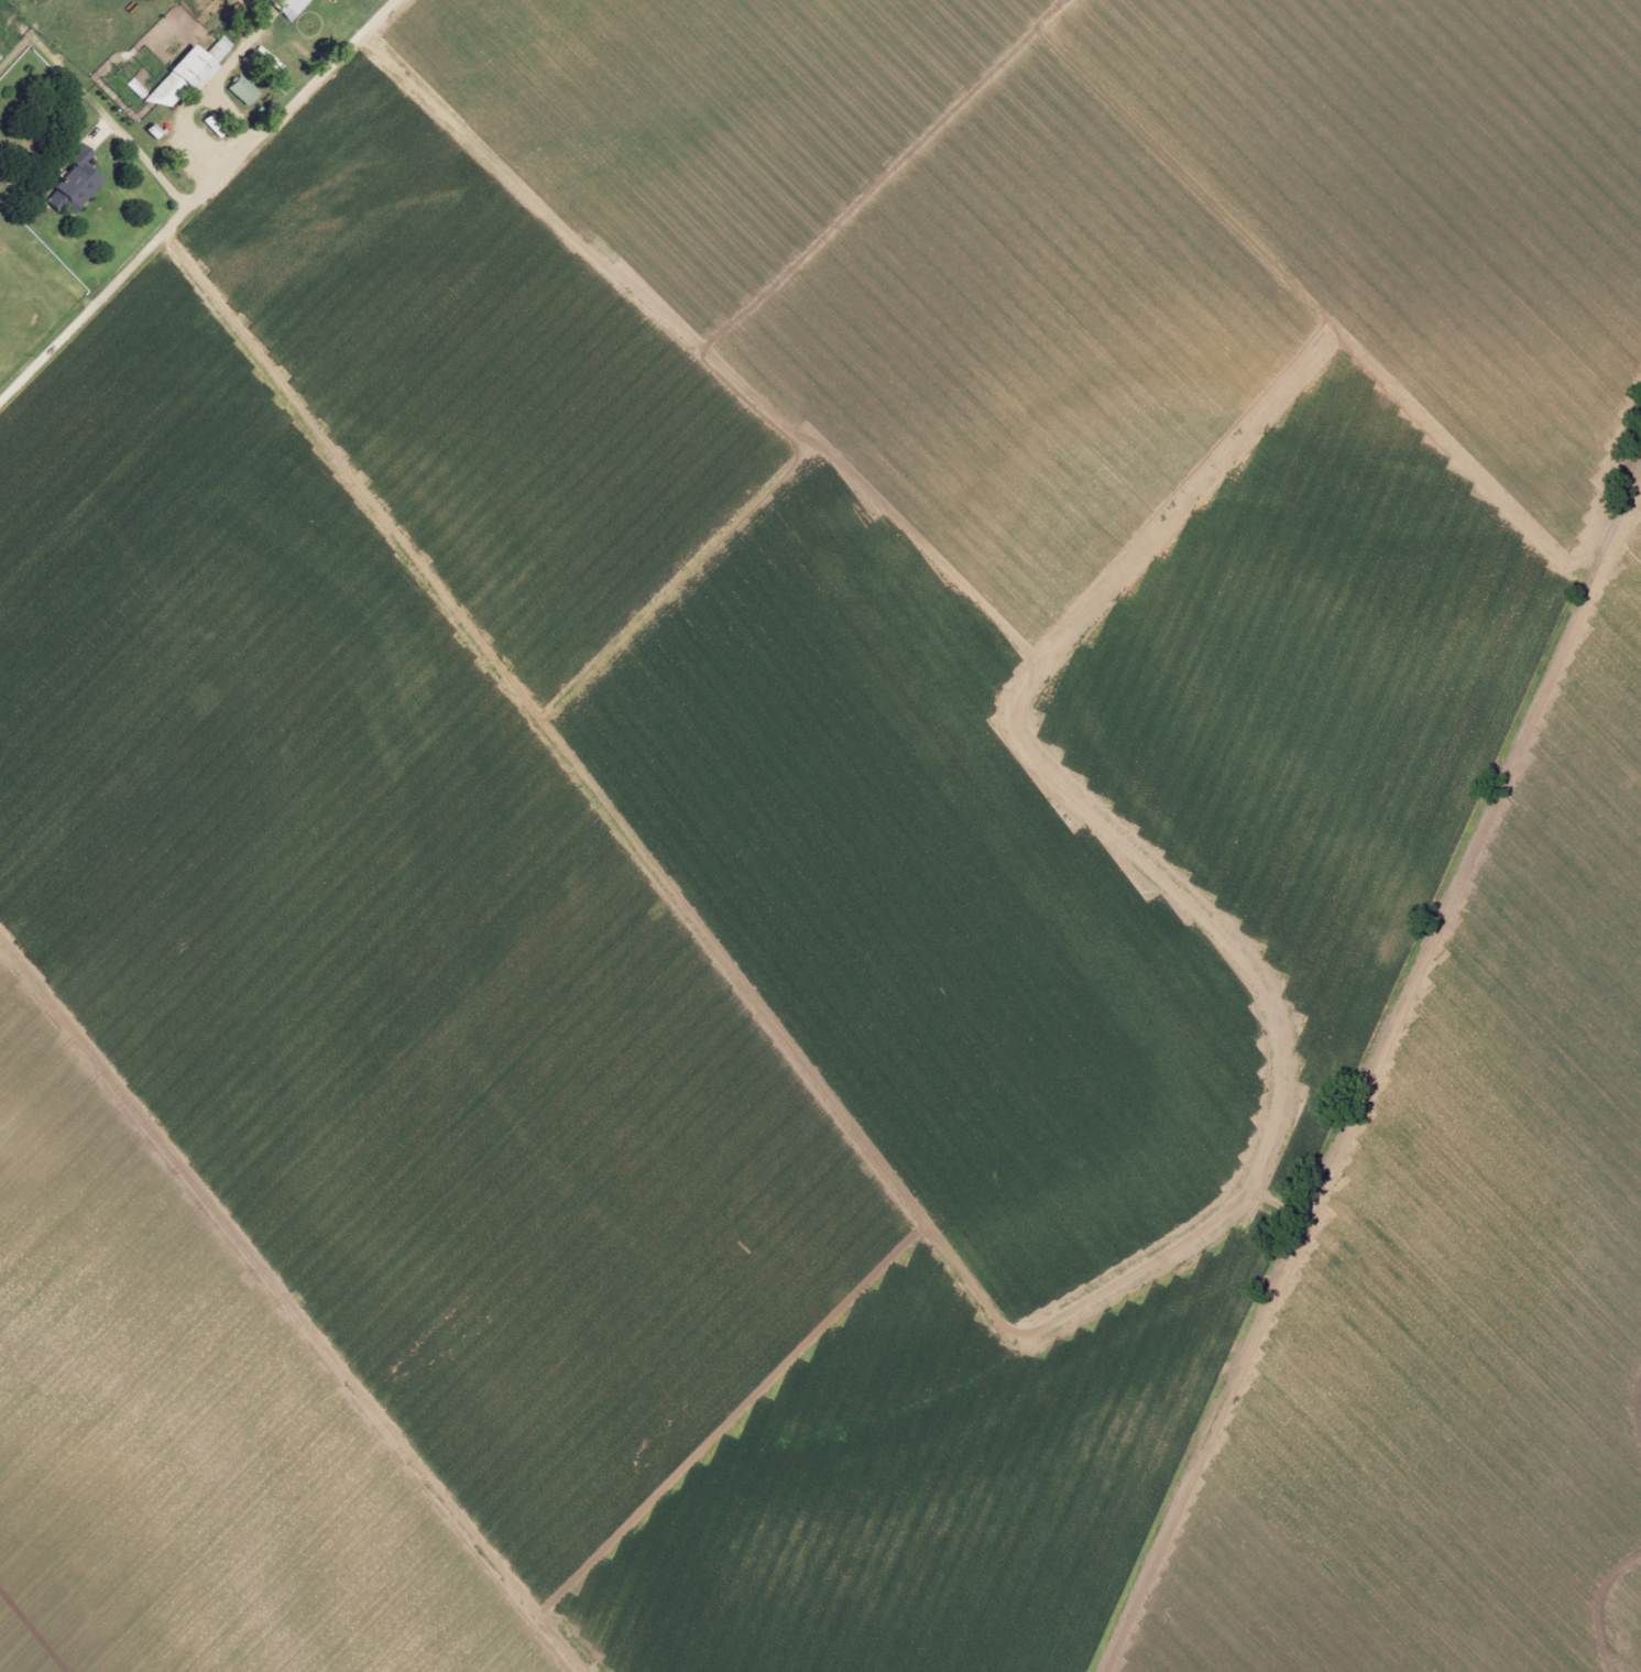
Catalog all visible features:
building: (289, 8)
building: (188, 74)
building: (242, 91)
building: (76, 184)
road: (197, 199)
road: (295, 1308)

